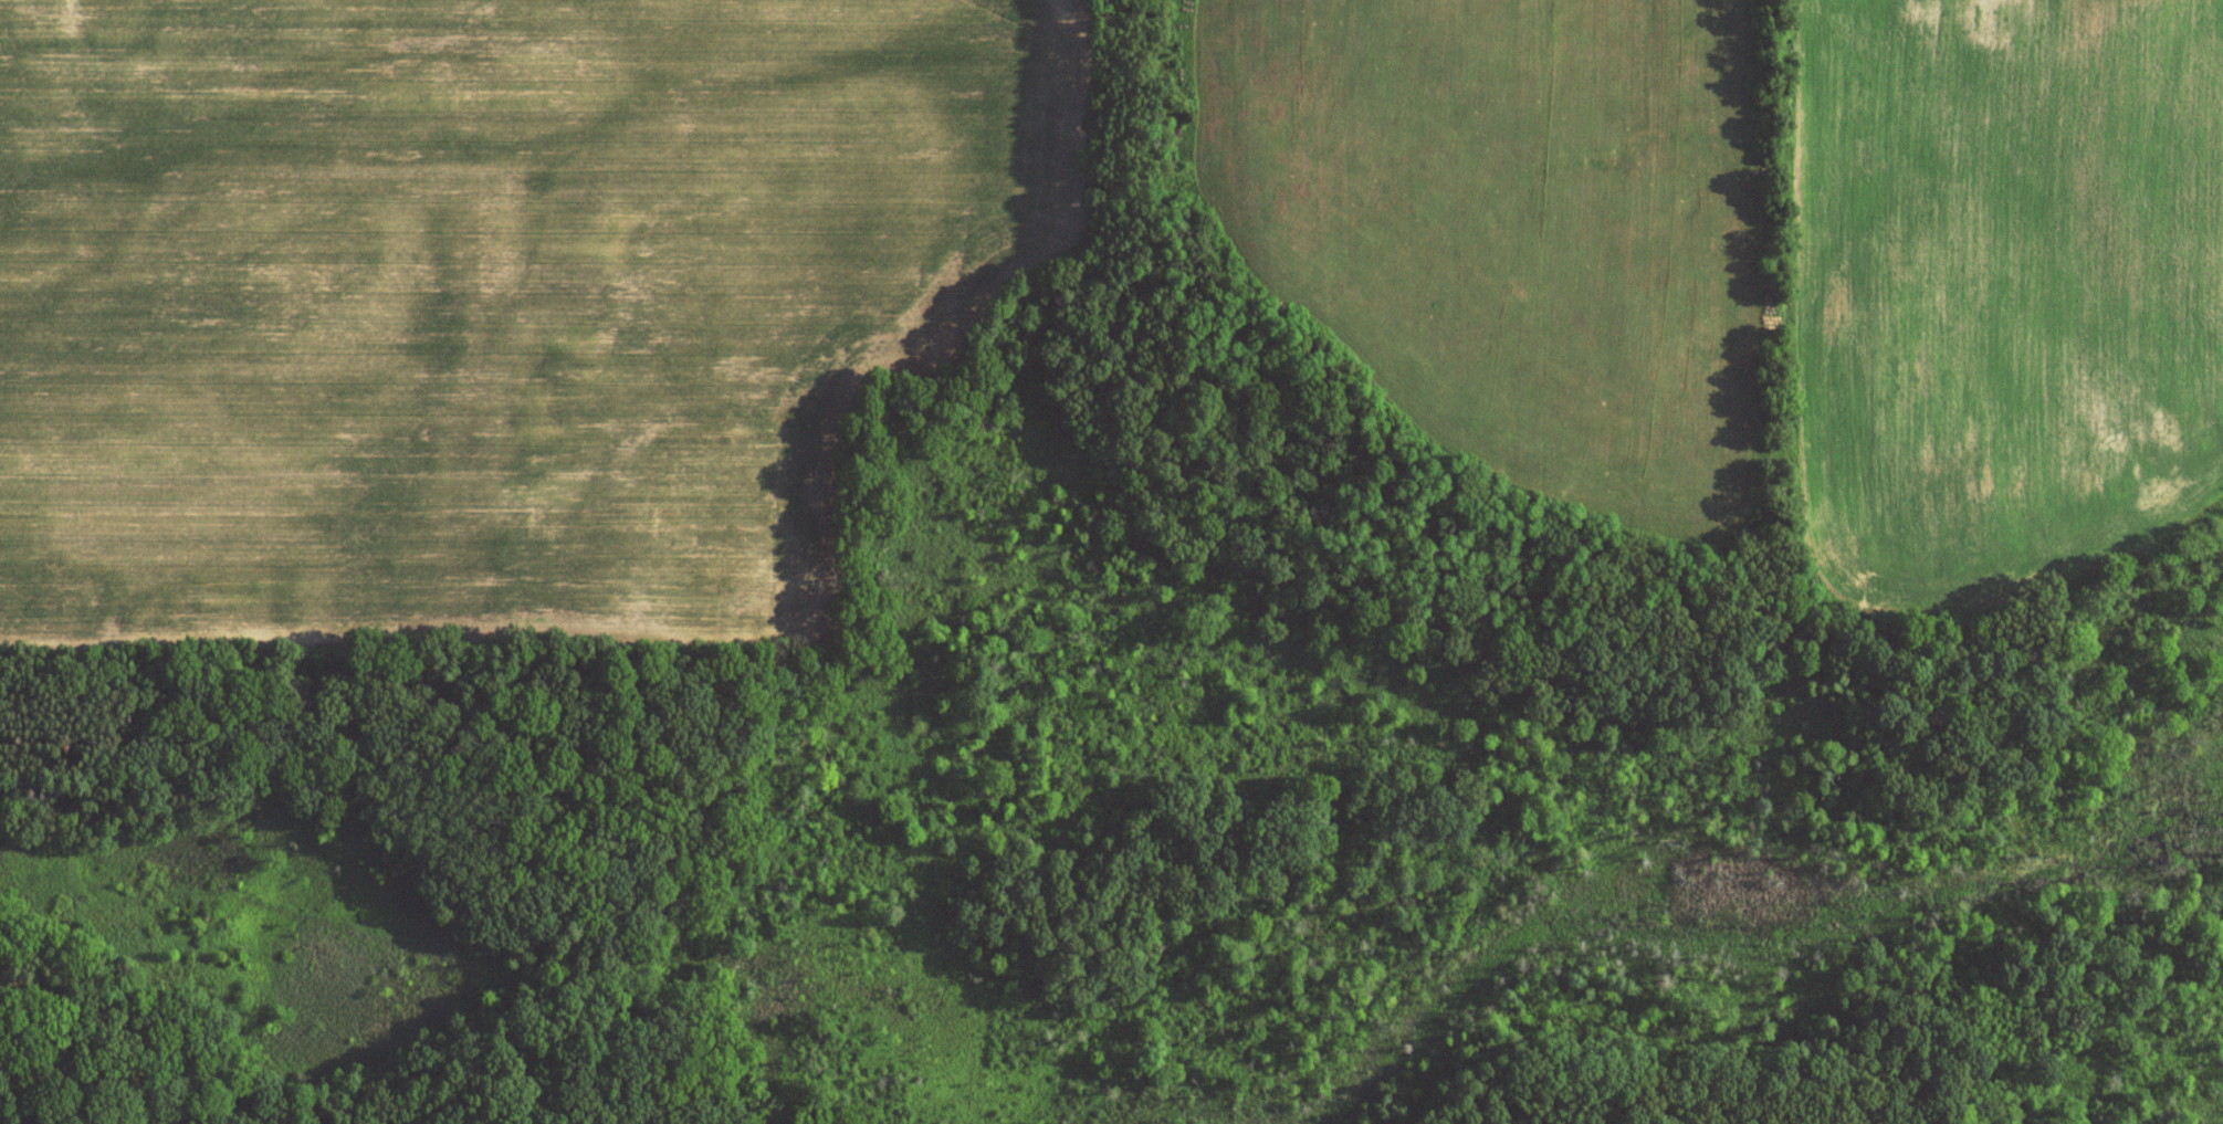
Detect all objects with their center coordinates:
road: (138, 1018)

